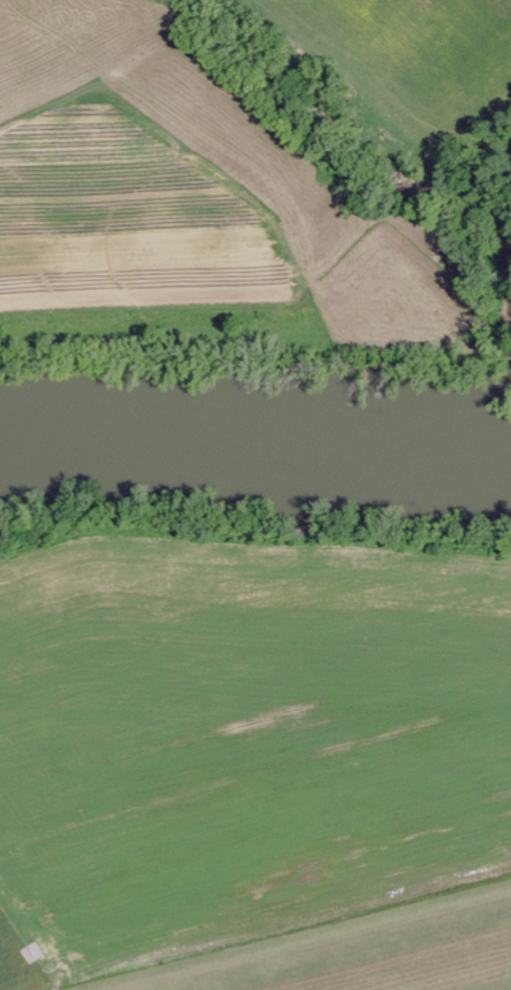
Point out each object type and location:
river: (255, 453)

